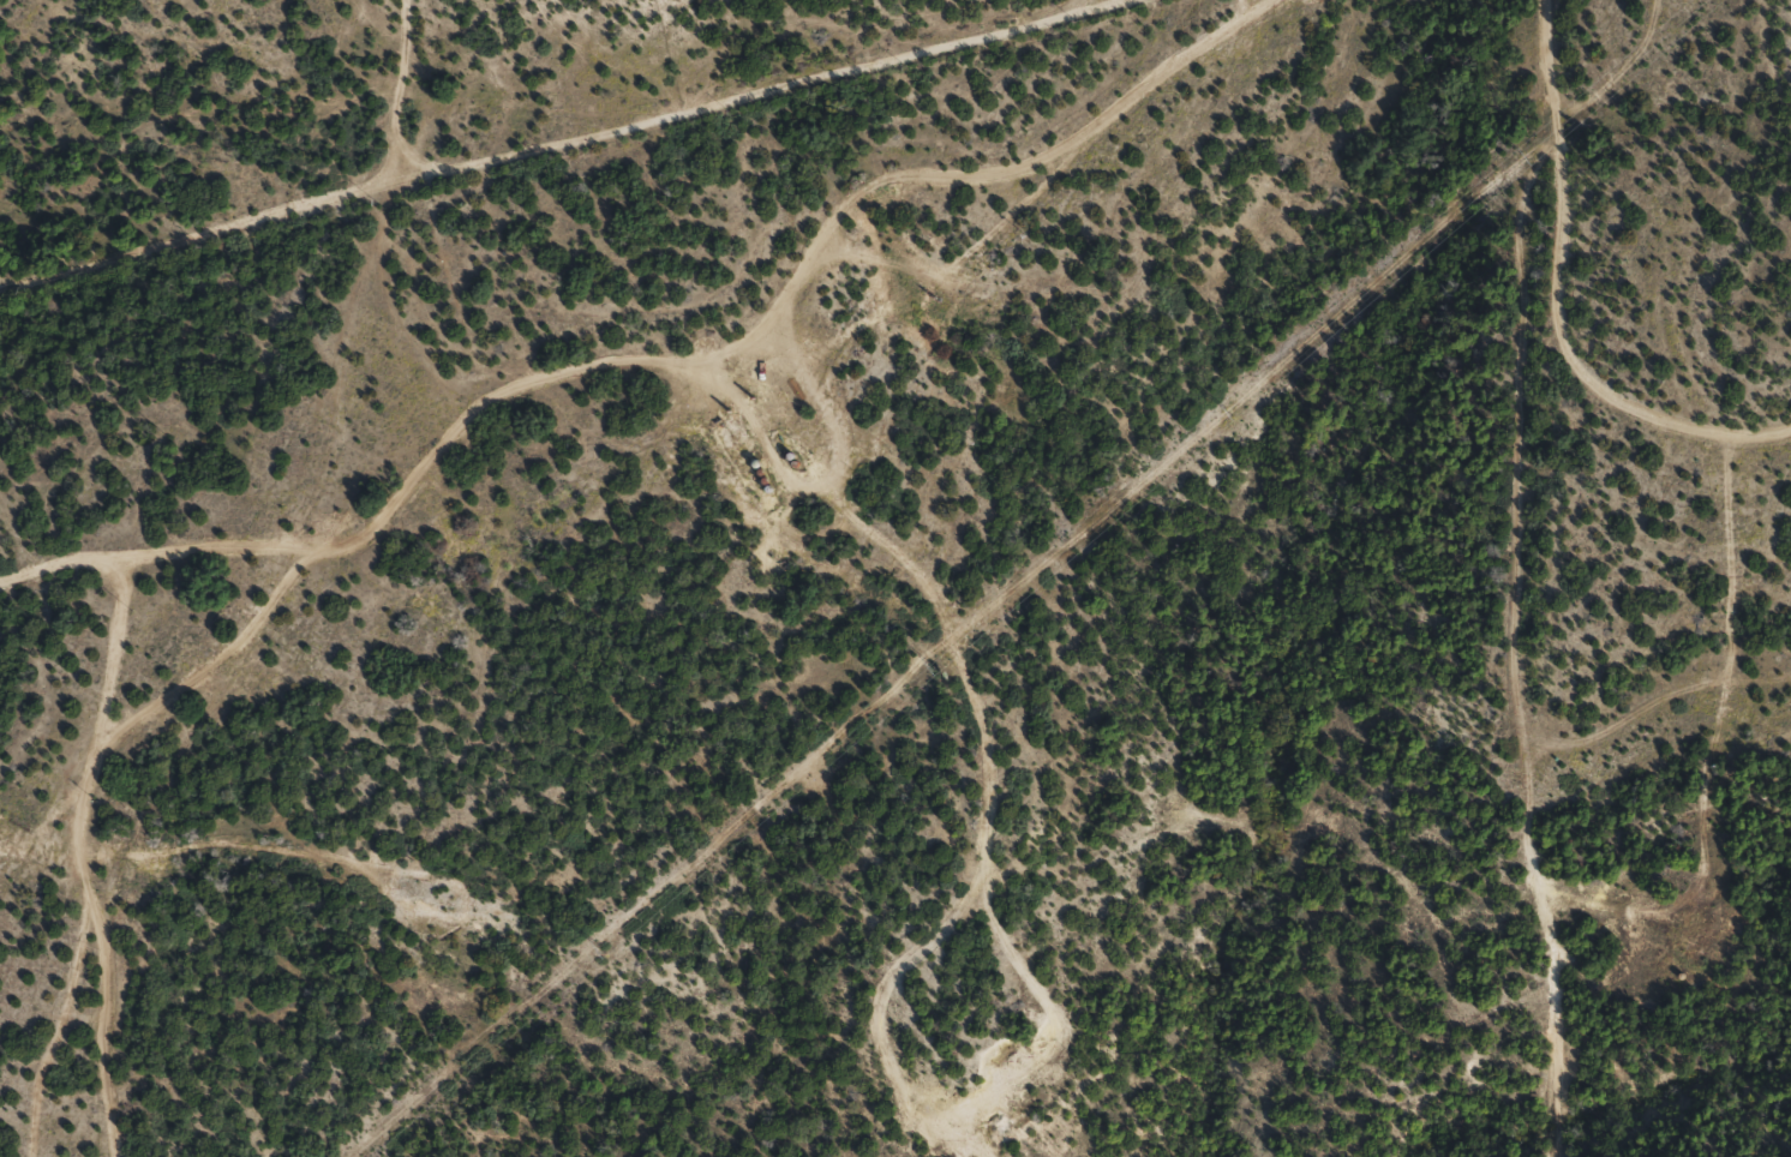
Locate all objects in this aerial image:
power tower: (1527, 156)
power tower: (1229, 413)
power tower: (933, 666)
power tower: (604, 949)

